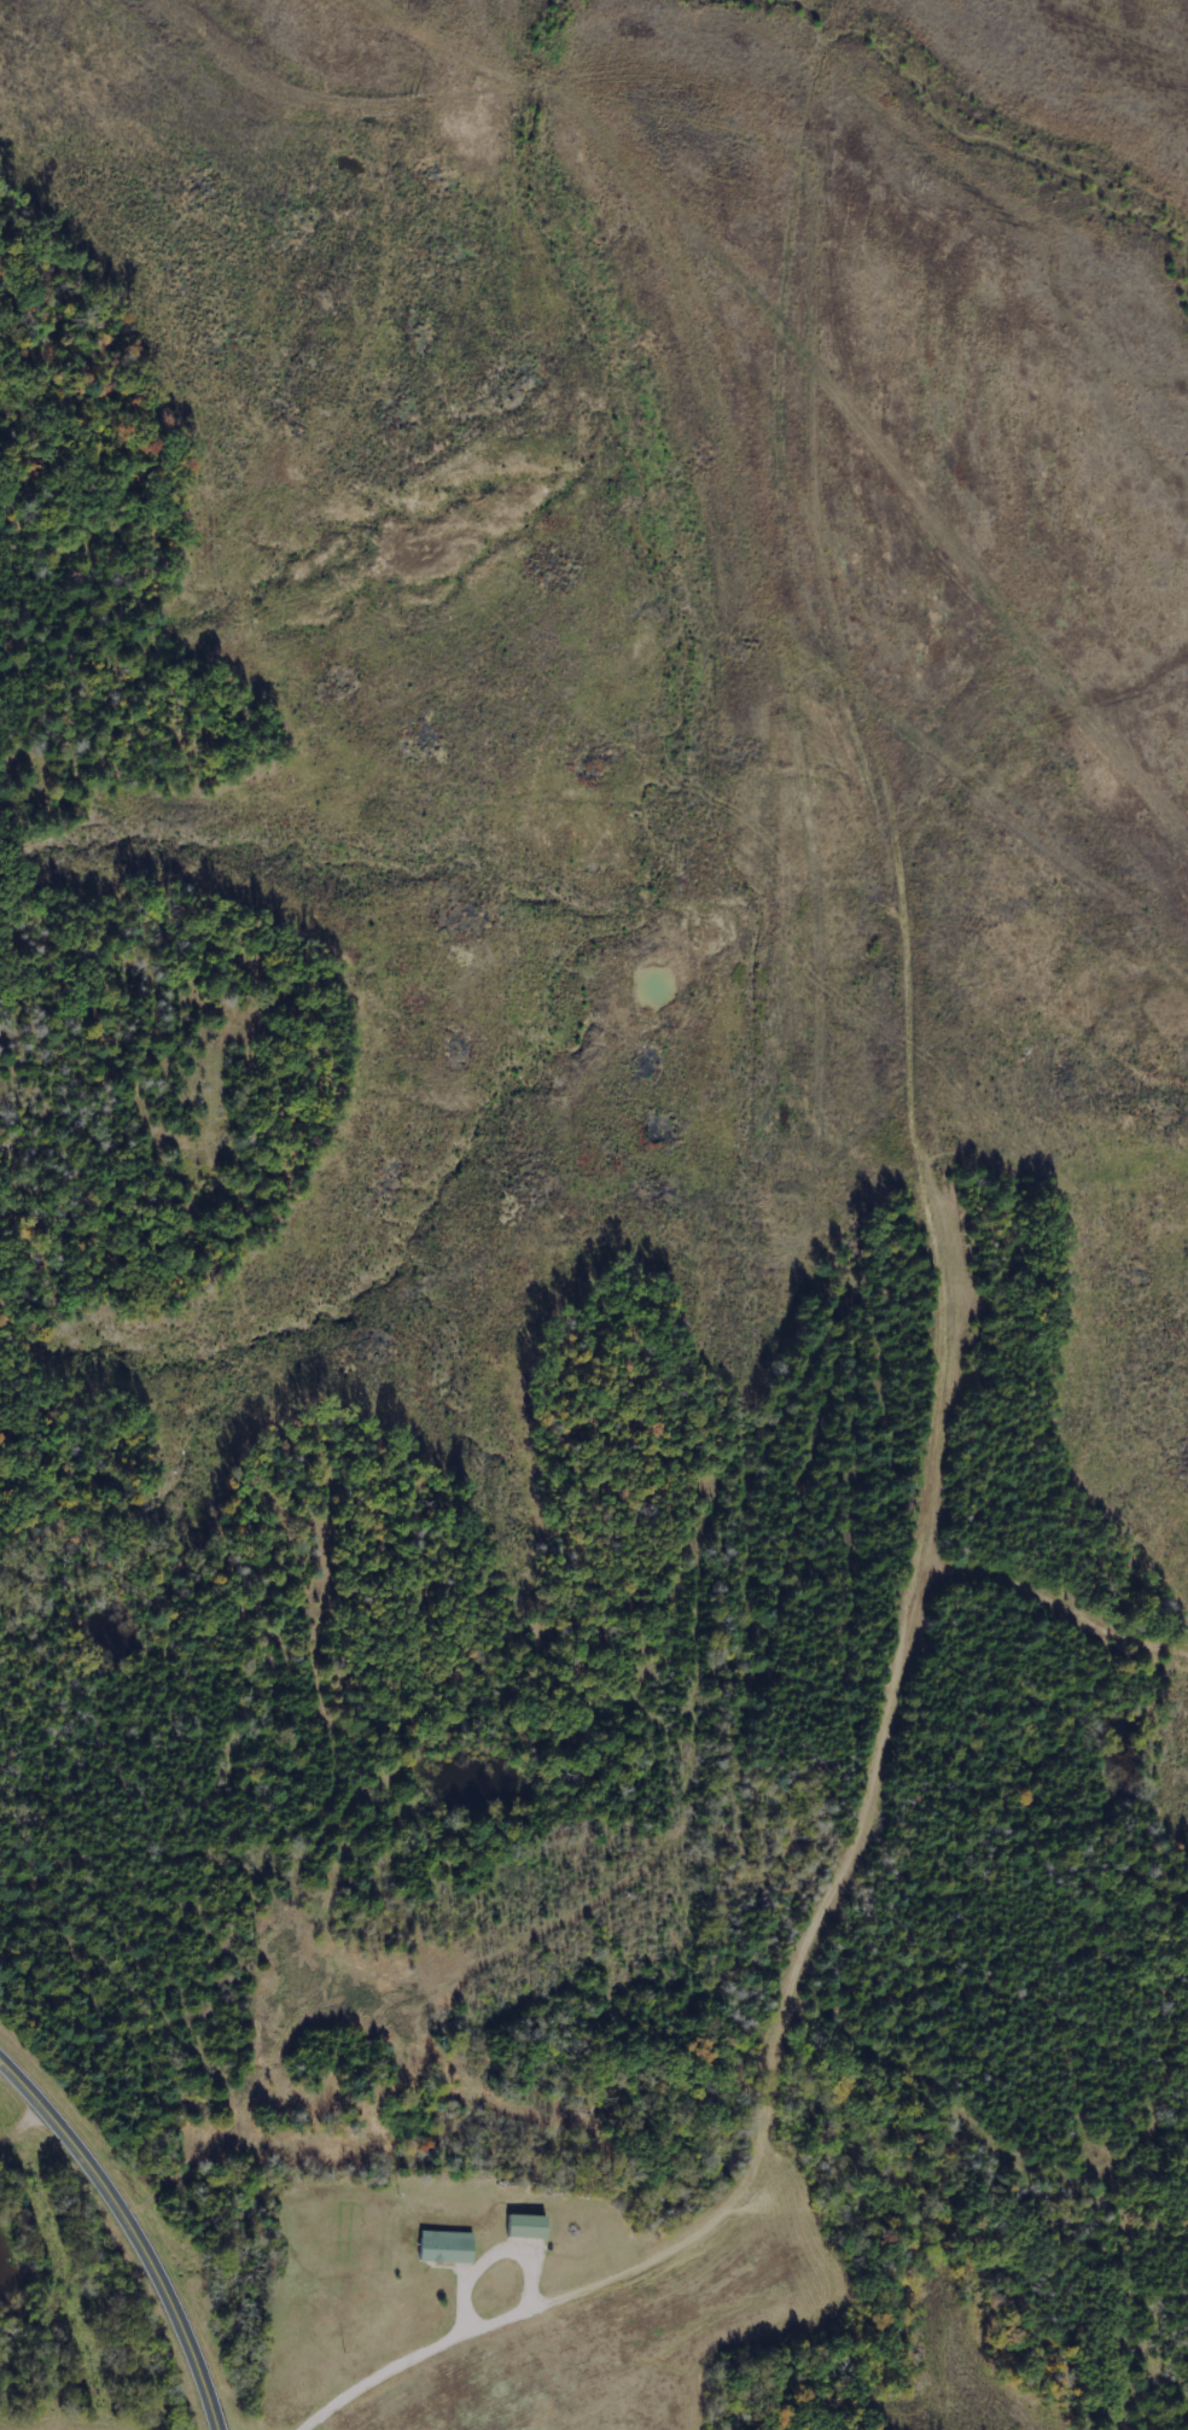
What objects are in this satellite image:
building: (526, 2227)
road: (134, 2228)
building: (444, 2248)
road: (553, 2266)

